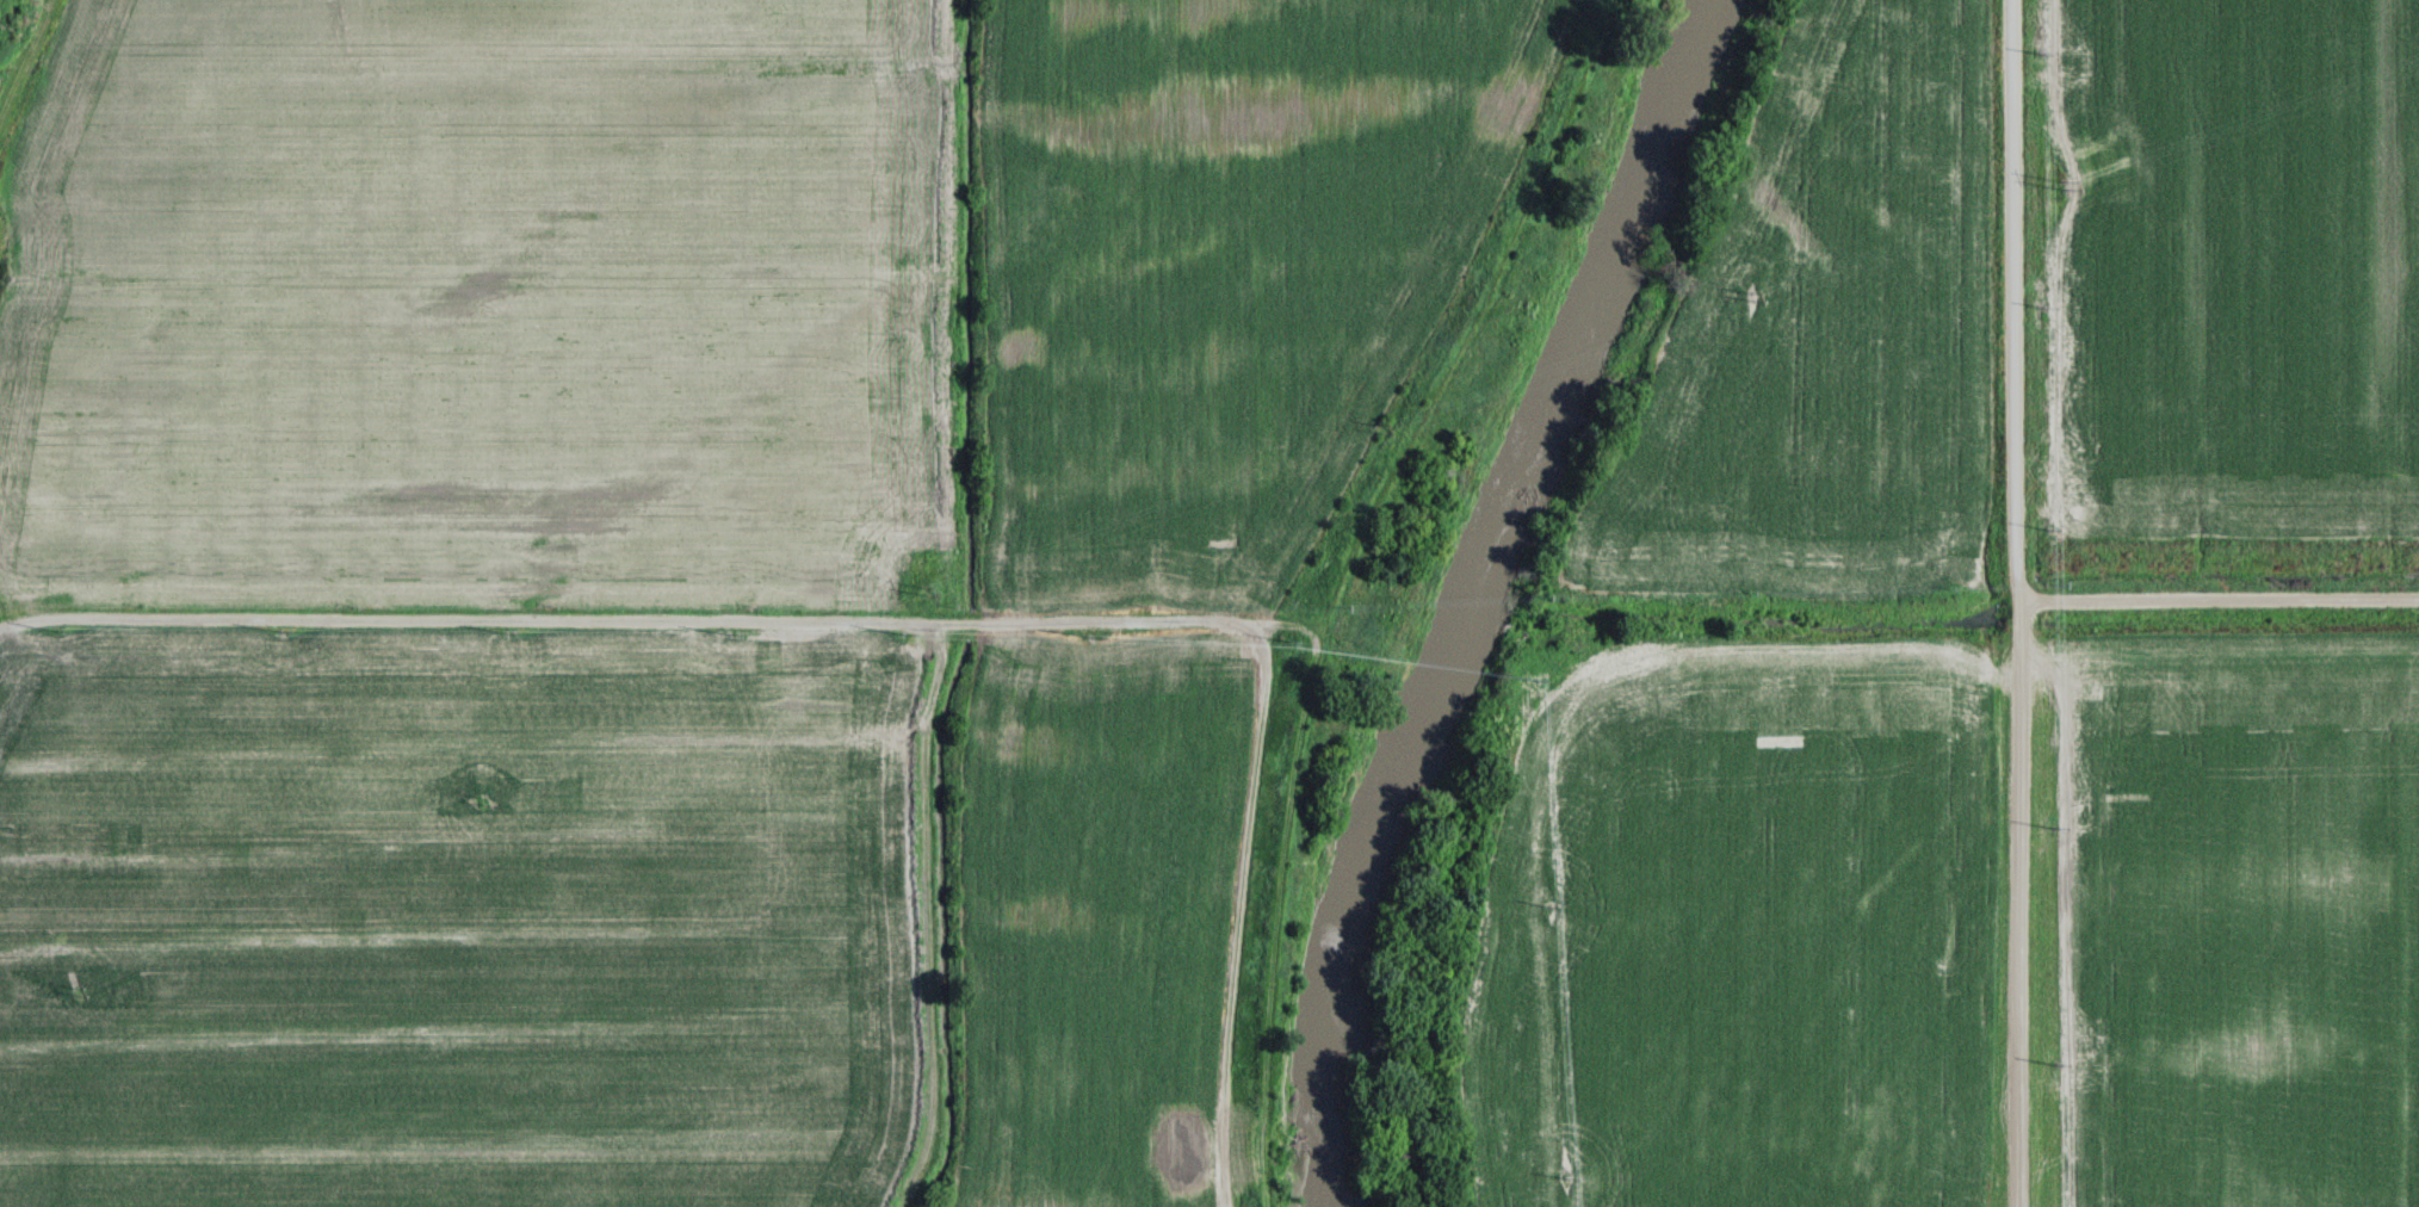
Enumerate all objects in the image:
river: (1641, 197)
road: (2012, 298)
road: (2216, 596)
river: (1397, 786)
road: (2015, 902)

